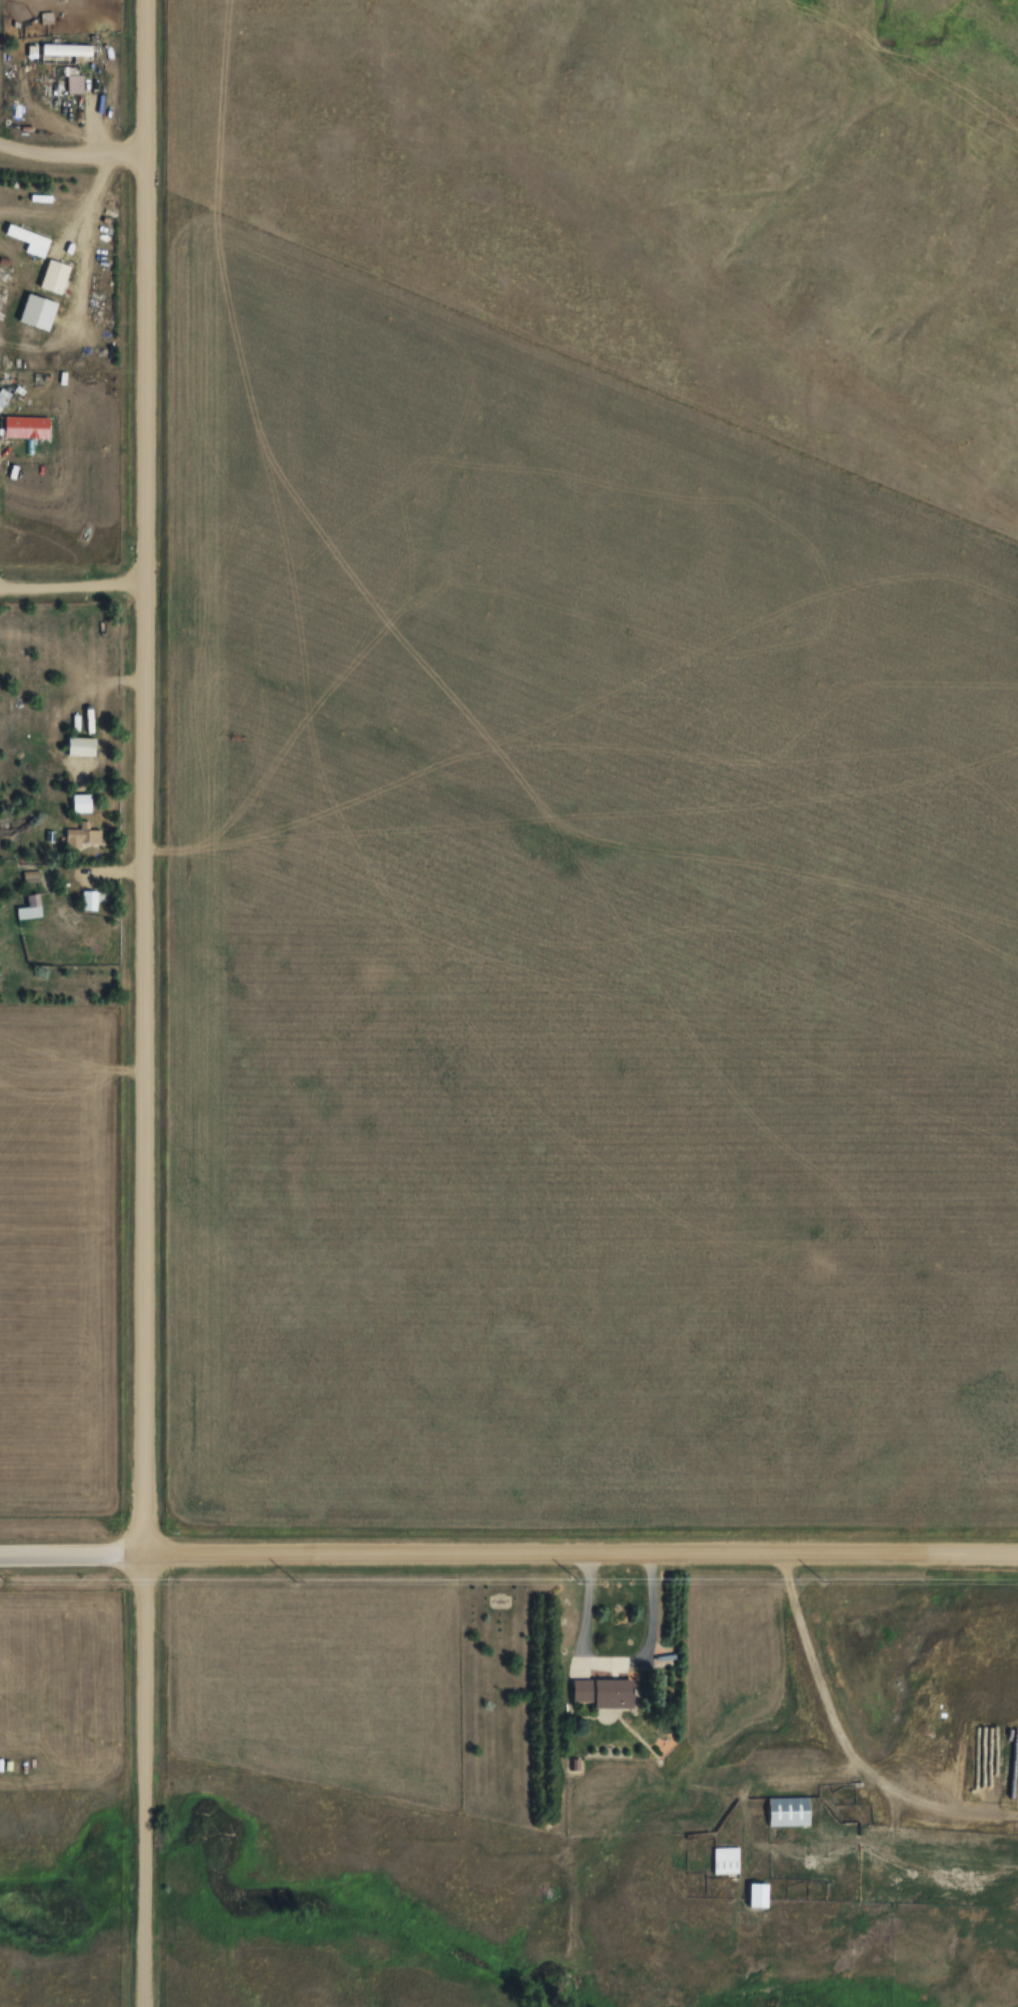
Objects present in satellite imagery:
building: (69, 49)
building: (77, 83)
road: (71, 153)
building: (33, 241)
building: (57, 276)
building: (27, 426)
road: (72, 586)
building: (83, 746)
road: (143, 775)
building: (83, 803)
building: (52, 835)
building: (83, 835)
building: (32, 877)
building: (91, 900)
building: (32, 908)
road: (508, 1552)
building: (607, 1692)
road: (141, 1778)
building: (790, 1812)
building: (727, 1861)
building: (760, 1895)

